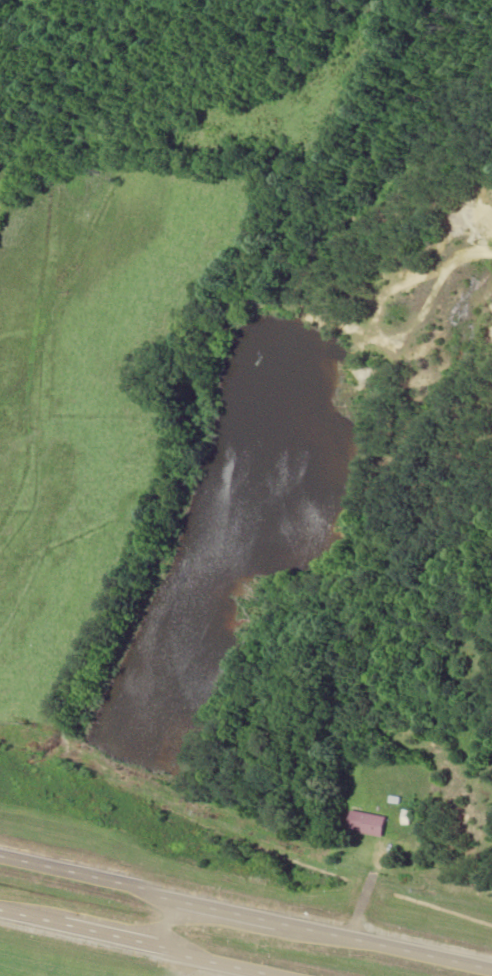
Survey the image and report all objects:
building: (365, 823)
road: (245, 916)
road: (156, 923)
road: (138, 945)
road: (182, 965)

